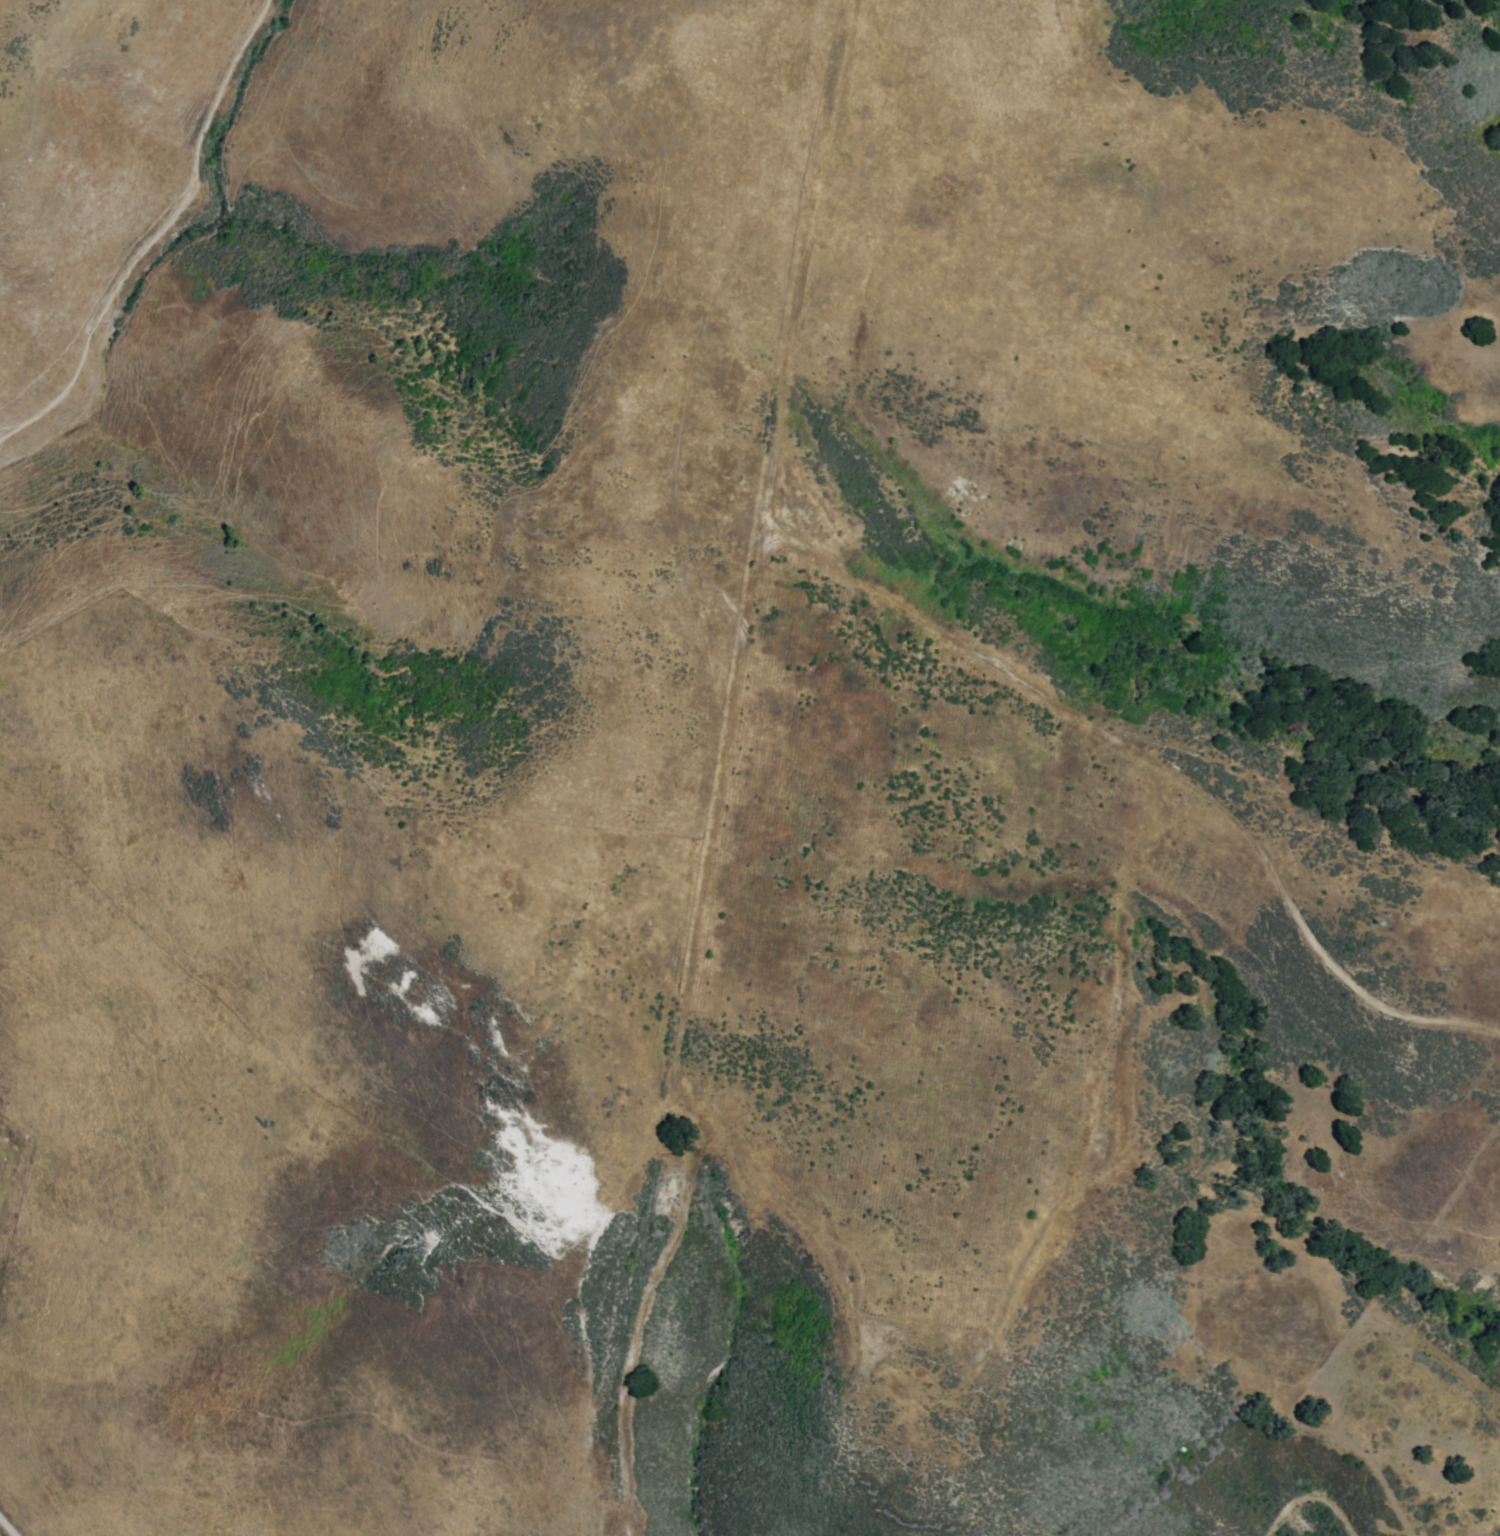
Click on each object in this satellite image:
road: (1098, 741)
crop: (10, 1194)
crop: (16, 1515)
road: (4, 1530)

